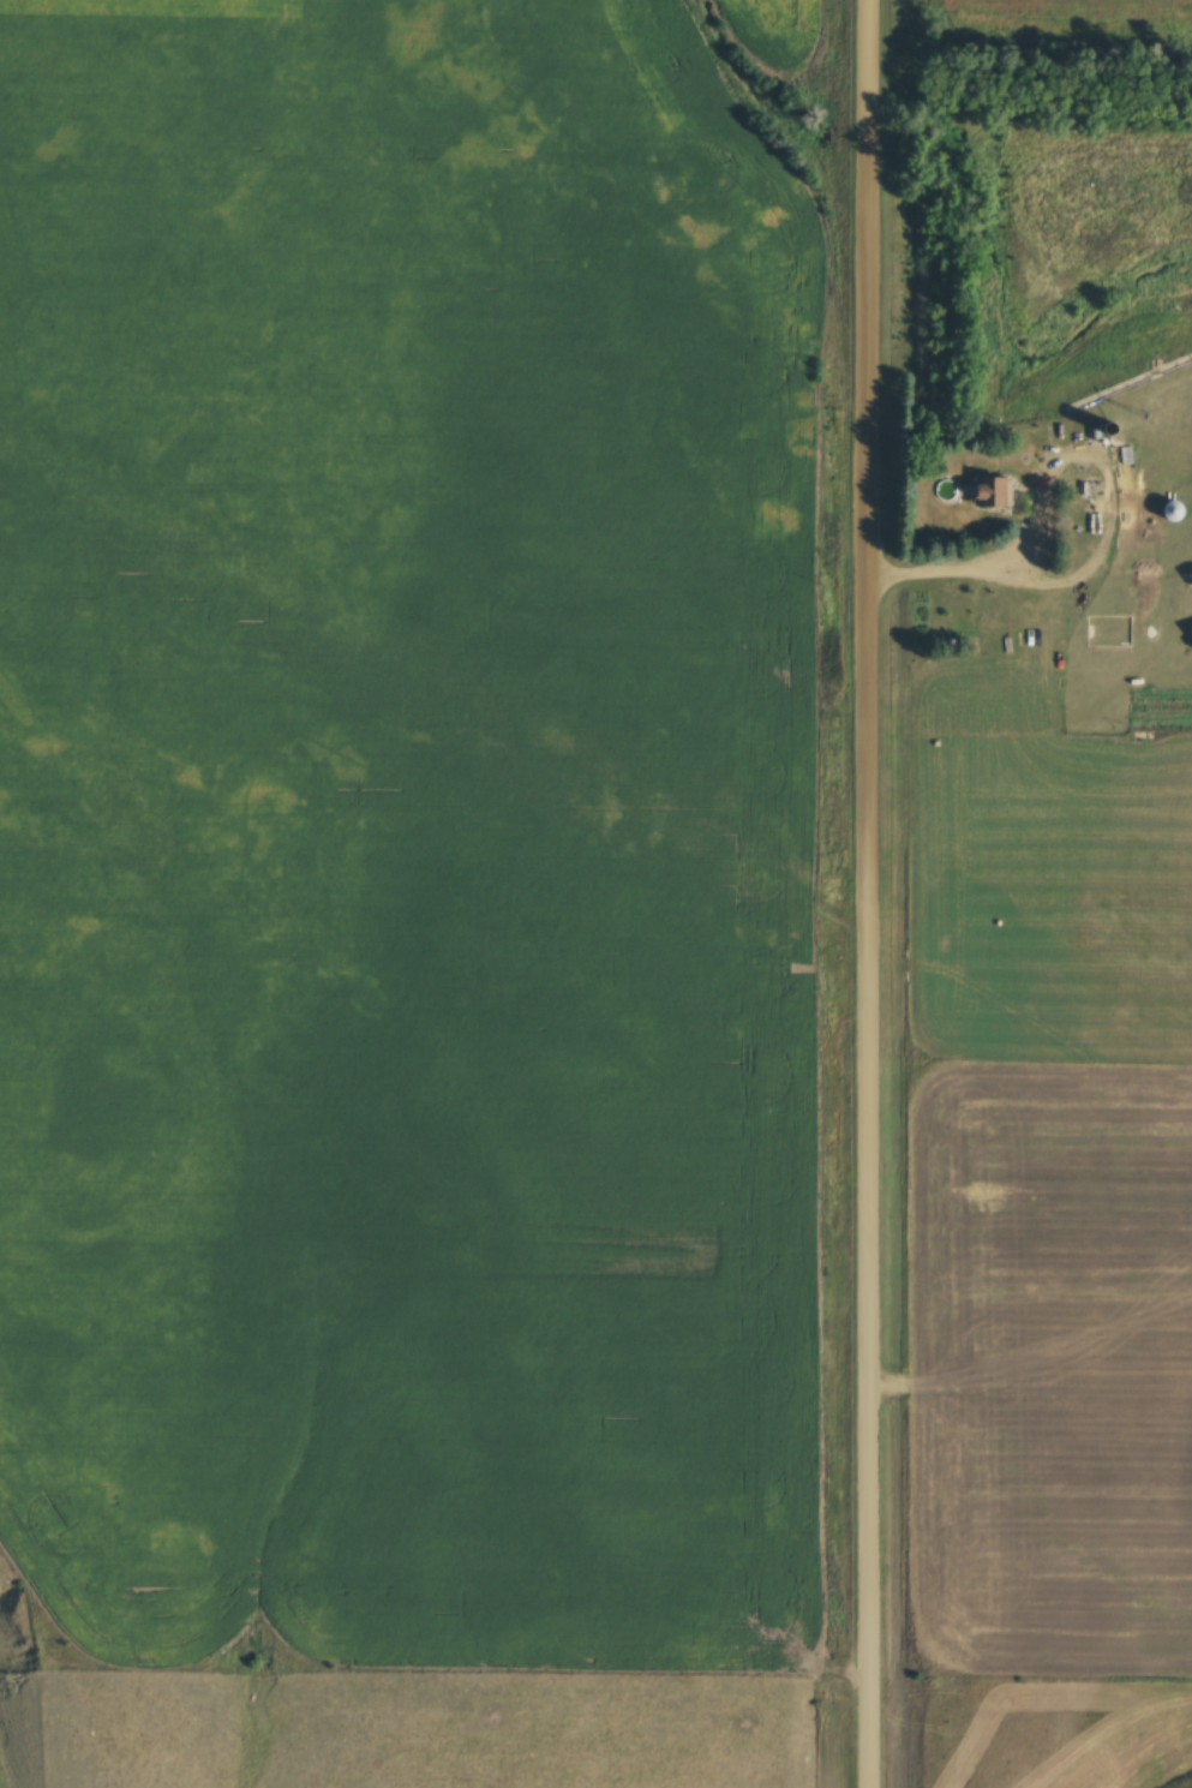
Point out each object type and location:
road: (1112, 486)
building: (999, 492)
building: (1181, 510)
road: (914, 567)
road: (865, 893)

